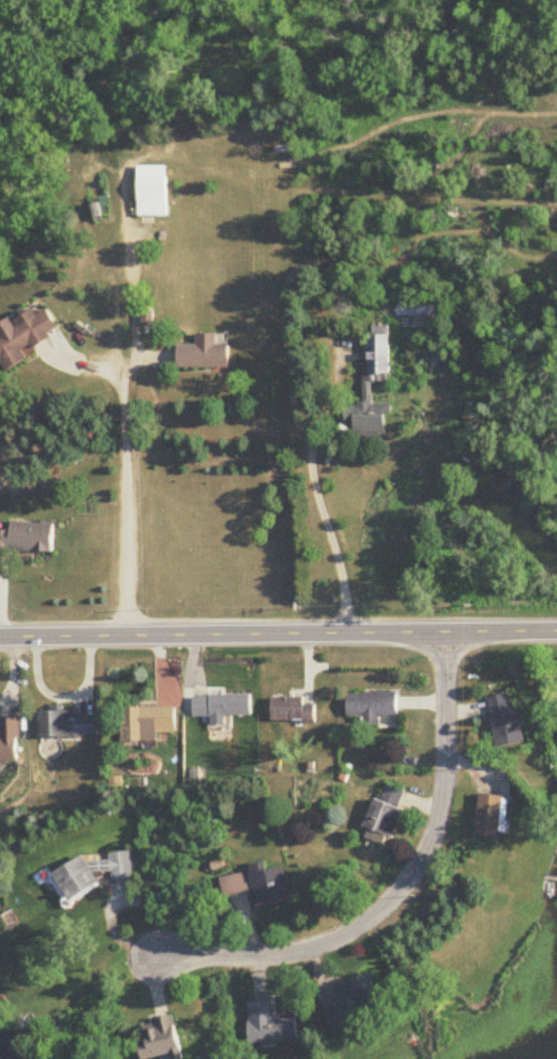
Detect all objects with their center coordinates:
building: (152, 191)
building: (416, 310)
building: (23, 338)
building: (205, 354)
building: (374, 389)
road: (124, 437)
road: (318, 496)
building: (26, 536)
road: (278, 633)
building: (372, 706)
building: (221, 707)
building: (292, 710)
building: (506, 719)
building: (149, 723)
building: (69, 724)
building: (10, 738)
building: (385, 812)
building: (490, 815)
building: (92, 874)
building: (259, 883)
road: (399, 891)
building: (348, 1002)
building: (270, 1024)
building: (162, 1039)

